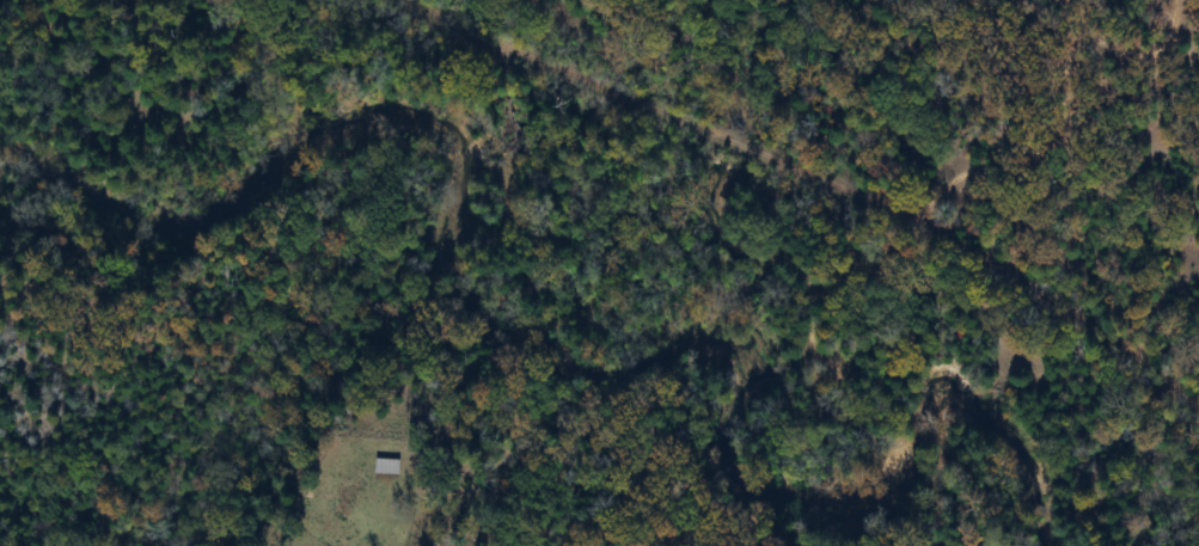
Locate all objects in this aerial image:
building: (387, 467)

